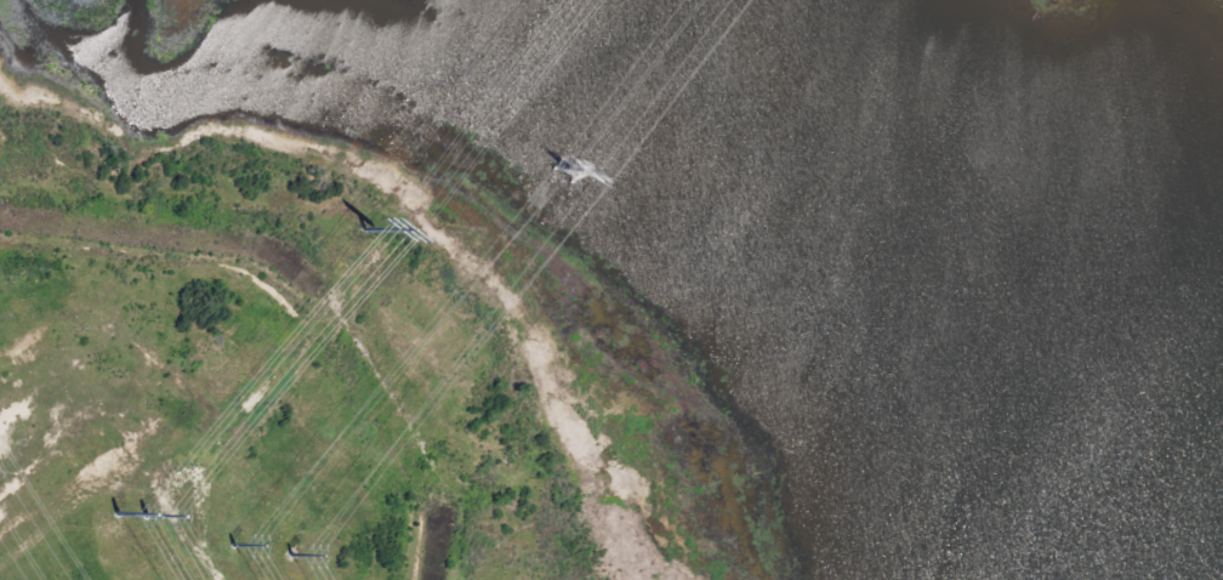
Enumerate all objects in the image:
power tower: (553, 177)
power tower: (115, 524)
power tower: (255, 541)

